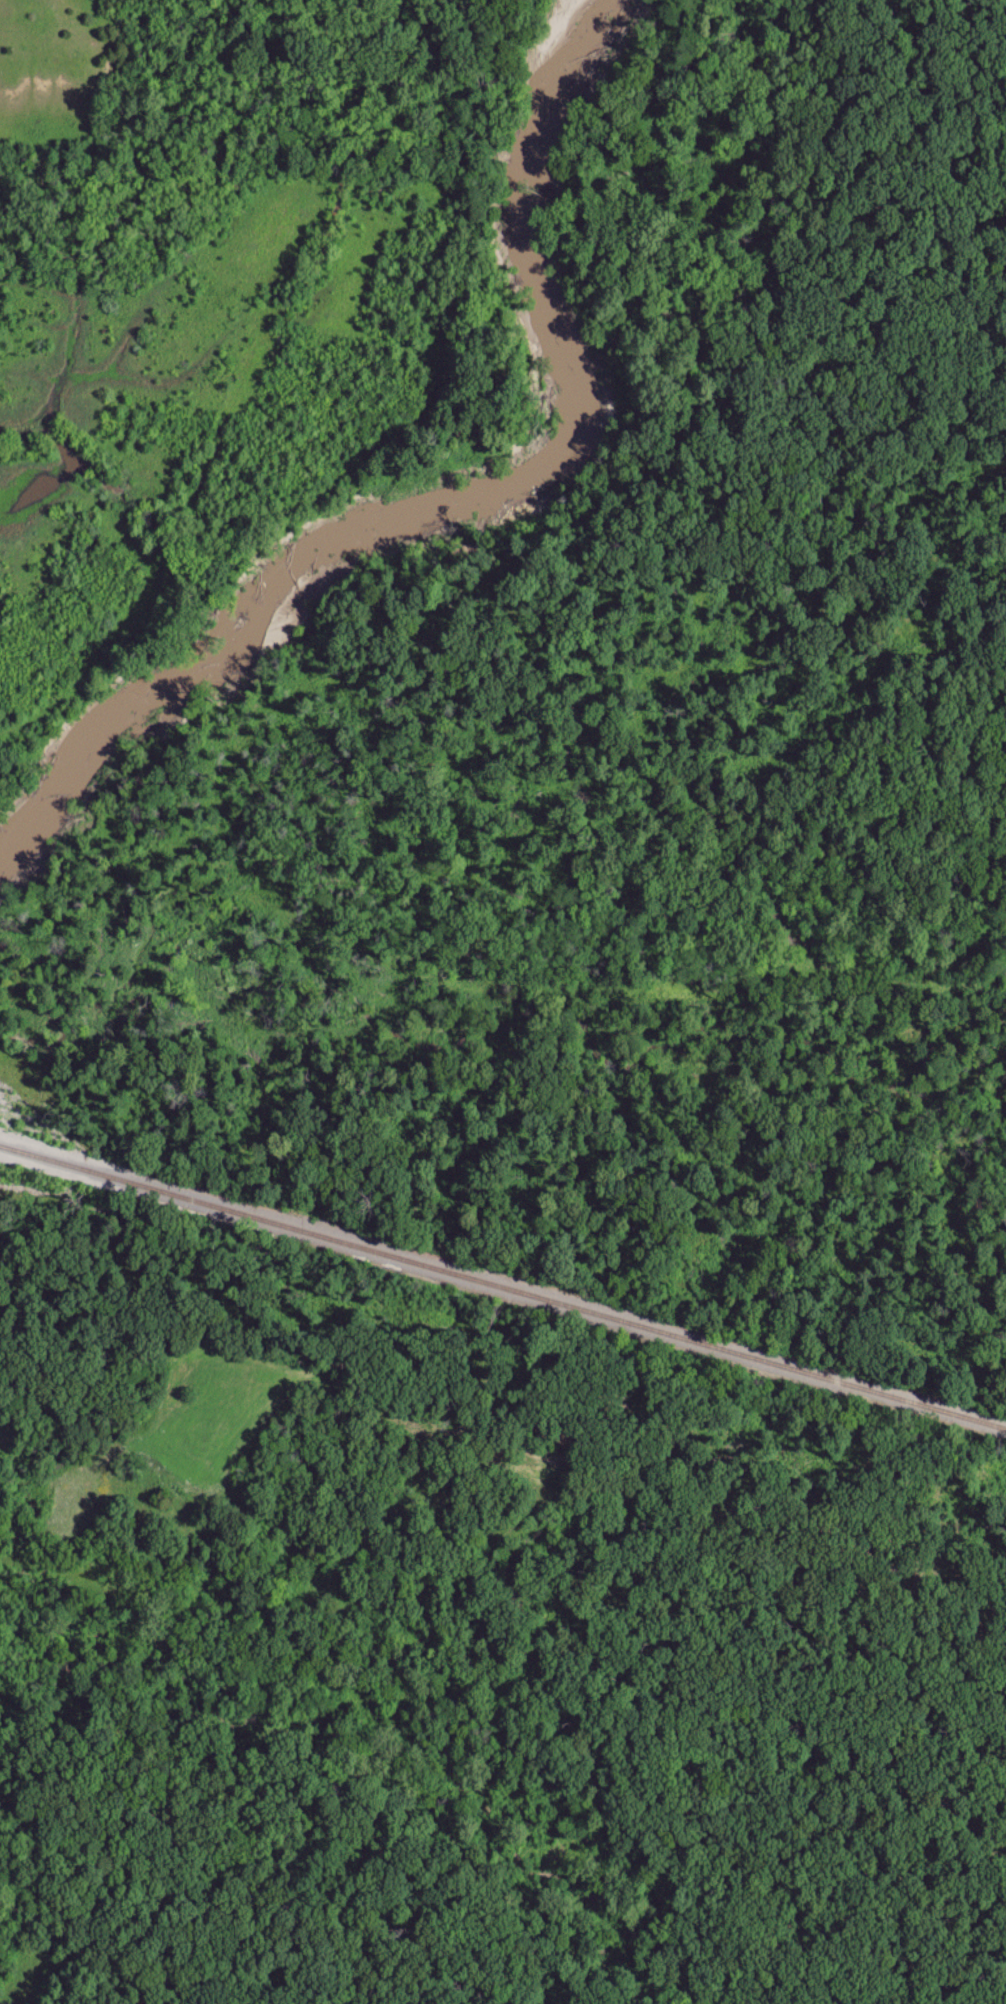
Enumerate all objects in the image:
river: (460, 493)
railway: (503, 1289)

